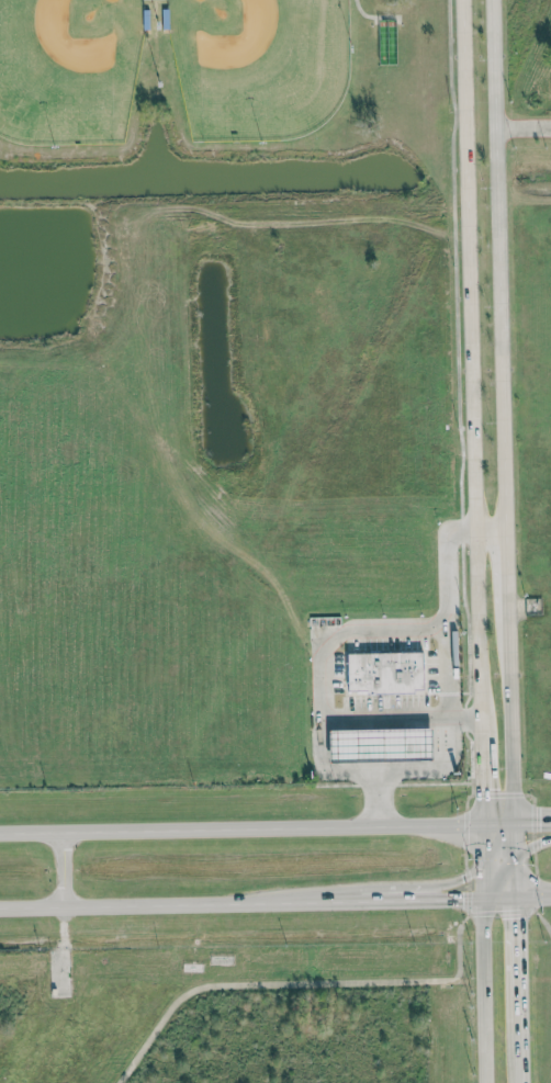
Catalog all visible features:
park: (259, 65)
park: (68, 69)
park: (221, 95)
road: (522, 126)
road: (497, 264)
road: (471, 369)
road: (491, 529)
road: (507, 572)
road: (327, 641)
building: (384, 673)
road: (400, 713)
road: (510, 719)
road: (446, 725)
building: (380, 744)
road: (481, 780)
traffic signals: (482, 788)
road: (531, 822)
traffic signals: (540, 822)
road: (498, 823)
road: (241, 828)
road: (514, 831)
road: (483, 843)
traffic signals: (541, 844)
road: (514, 846)
road: (531, 847)
road: (498, 850)
road: (498, 867)
road: (60, 869)
road: (484, 870)
road: (514, 876)
traffic signals: (461, 879)
road: (431, 888)
road: (484, 889)
road: (532, 896)
road: (498, 898)
road: (428, 899)
traffic signals: (463, 899)
road: (351, 901)
road: (164, 904)
traffic signals: (514, 916)
road: (515, 972)
road: (347, 982)
road: (485, 991)
road: (517, 1065)

